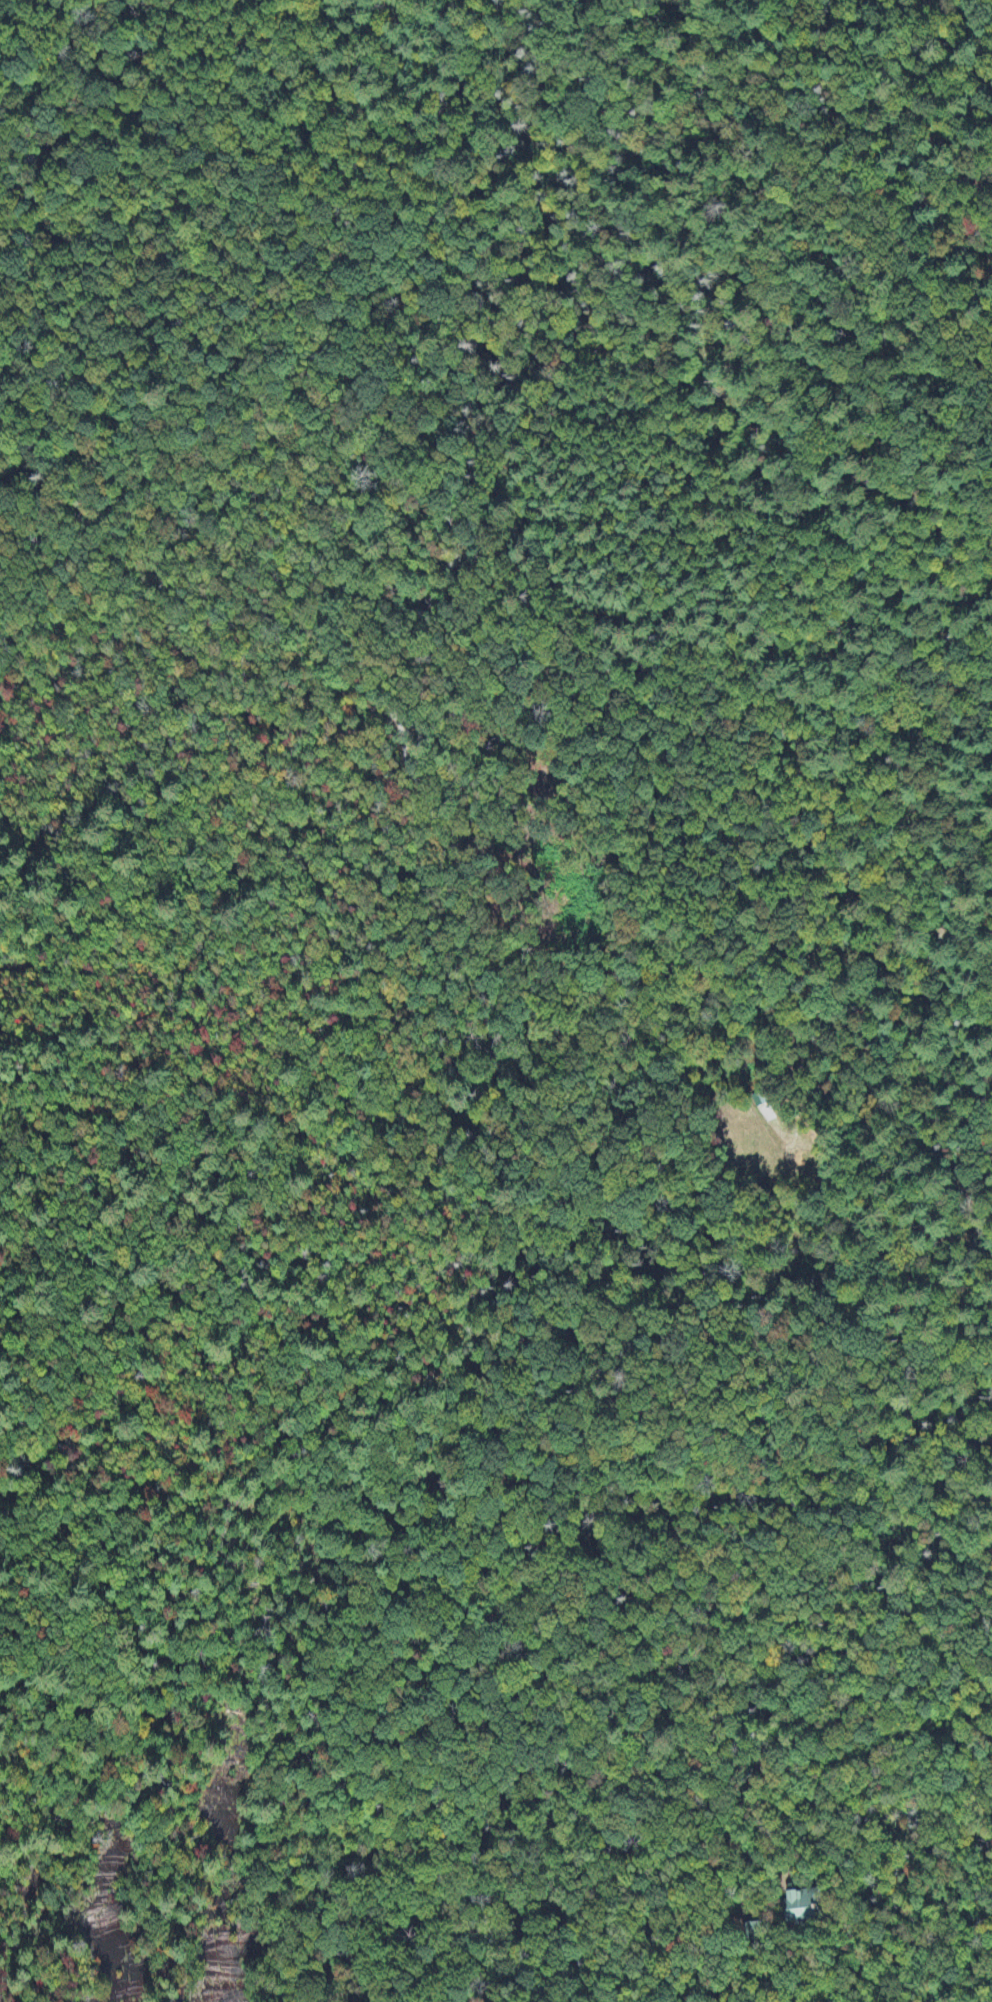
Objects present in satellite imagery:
building: (759, 1100)
park: (338, 1164)
building: (804, 1906)

